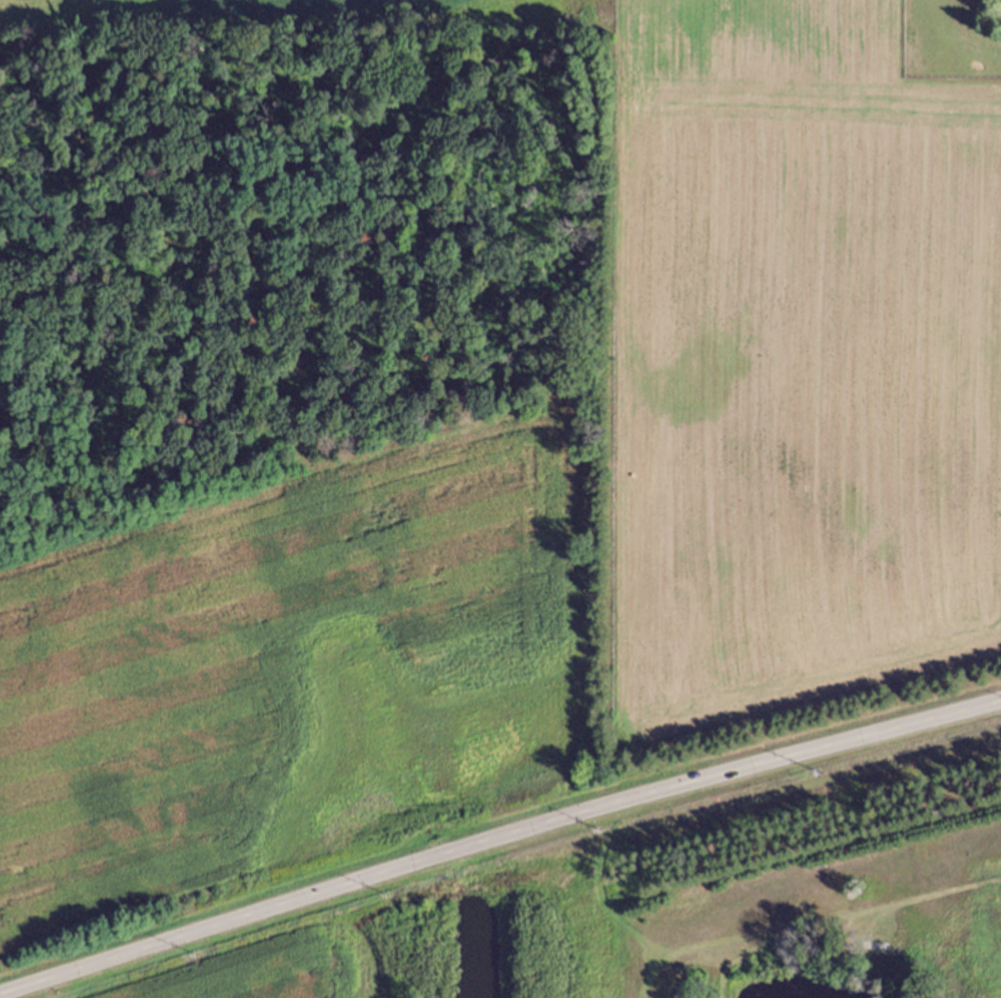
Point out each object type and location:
road: (497, 839)
airport: (623, 900)
road: (390, 933)
airport runway: (650, 964)

